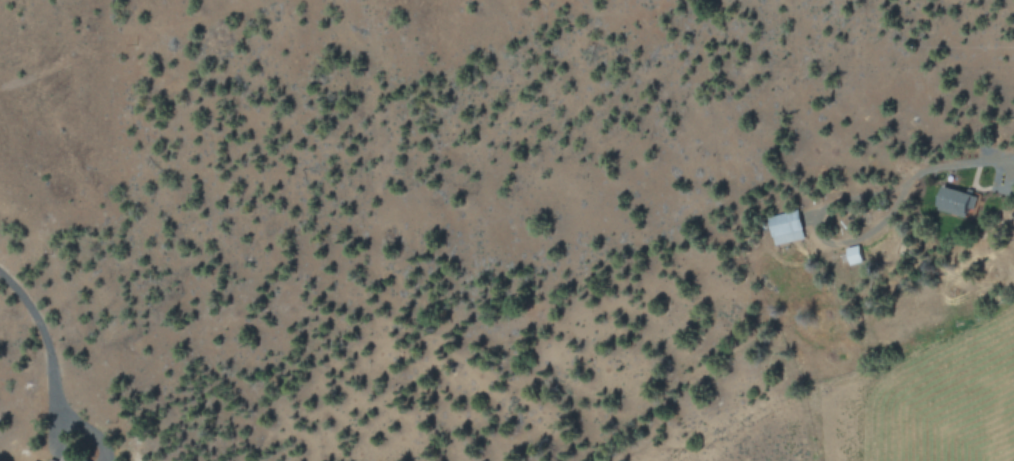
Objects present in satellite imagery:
building: (956, 201)
building: (785, 226)
building: (854, 254)
crop: (941, 395)
building: (67, 457)
building: (32, 460)
building: (51, 460)

